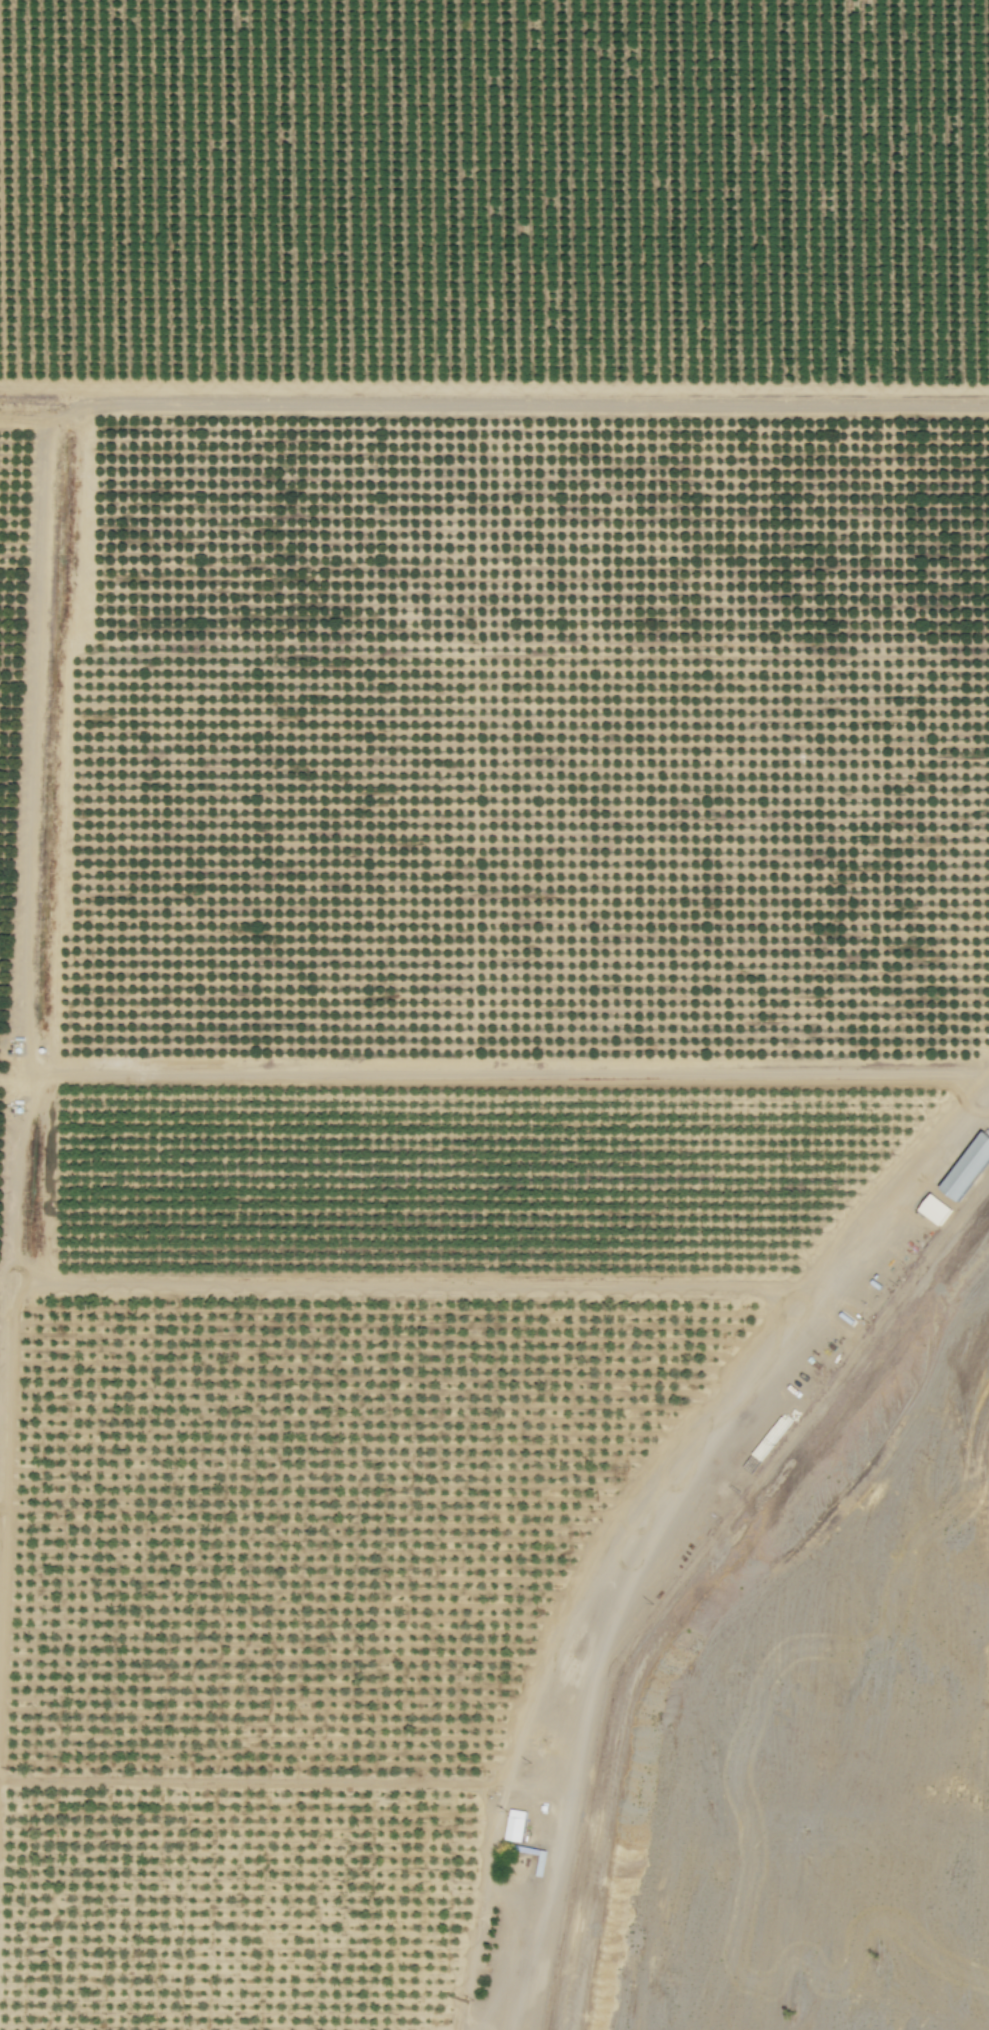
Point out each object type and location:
building: (969, 1170)
quarry: (813, 1717)
building: (516, 1825)

